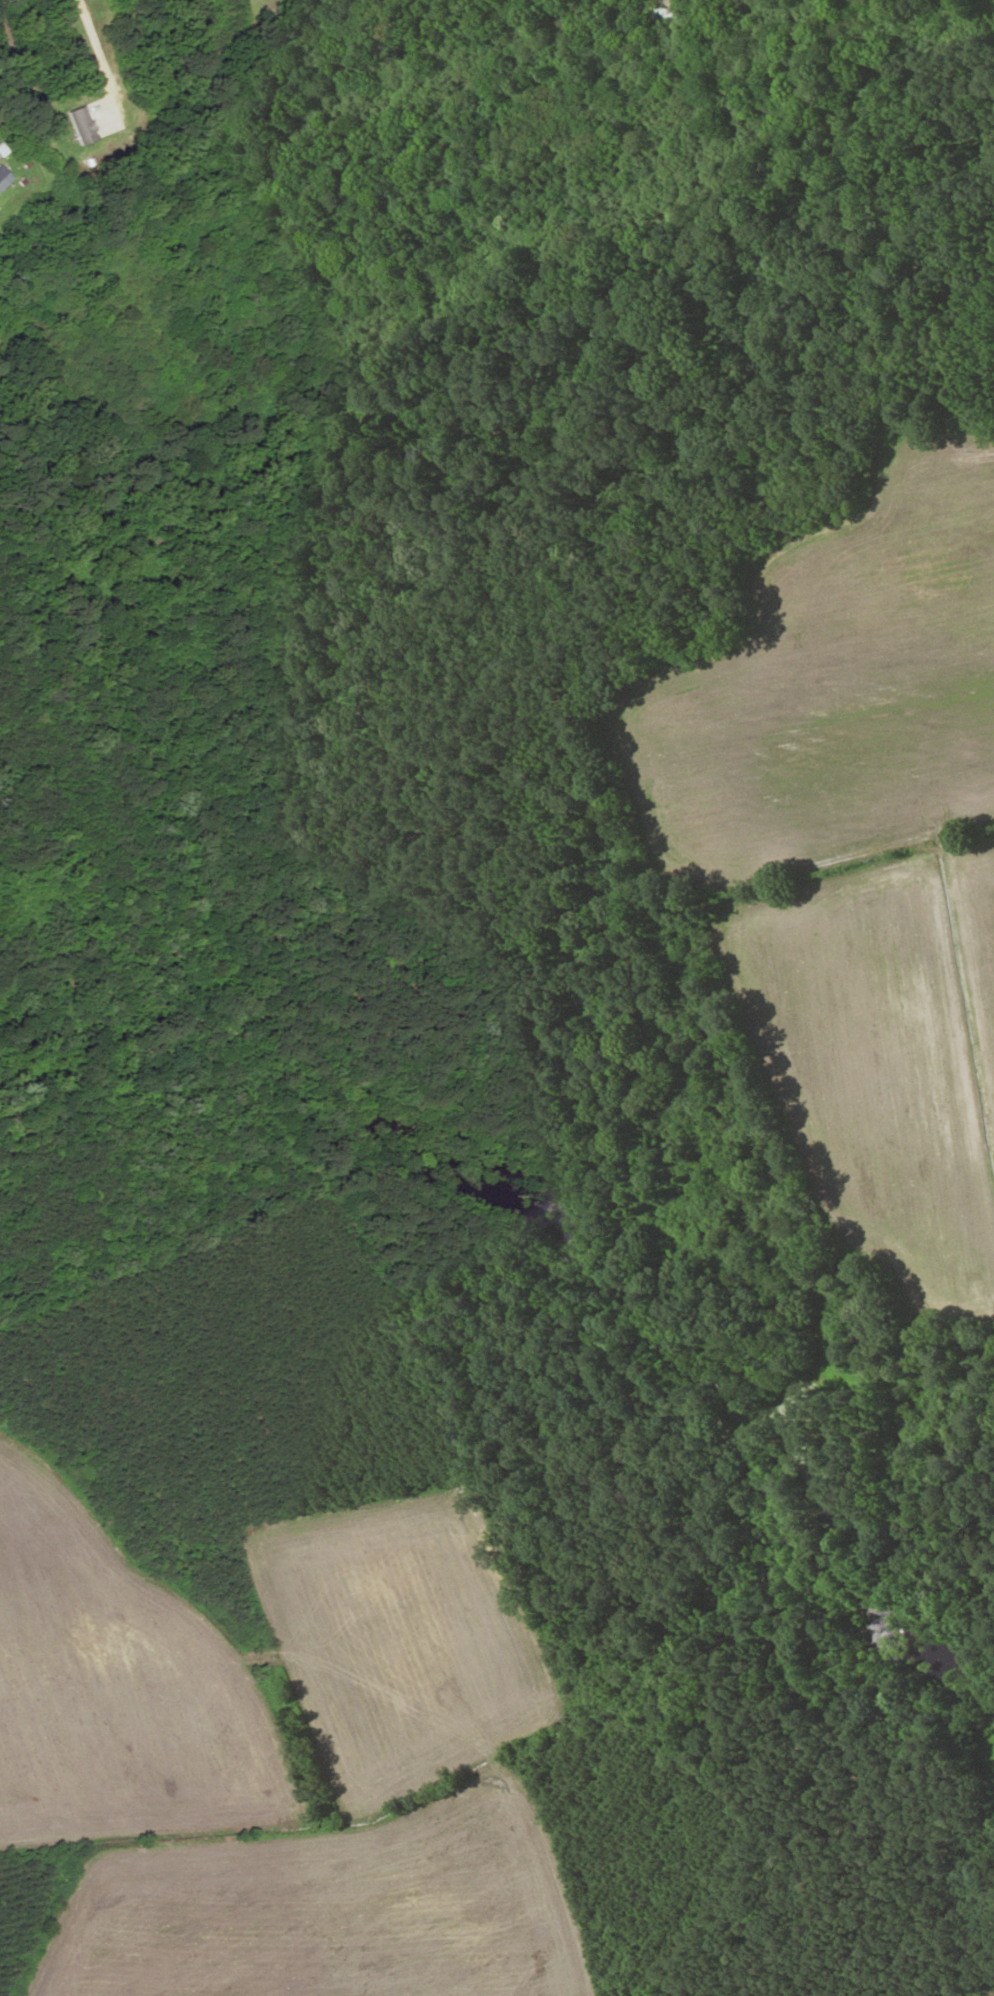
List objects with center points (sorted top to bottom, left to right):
building: (668, 12)
building: (3, 178)

